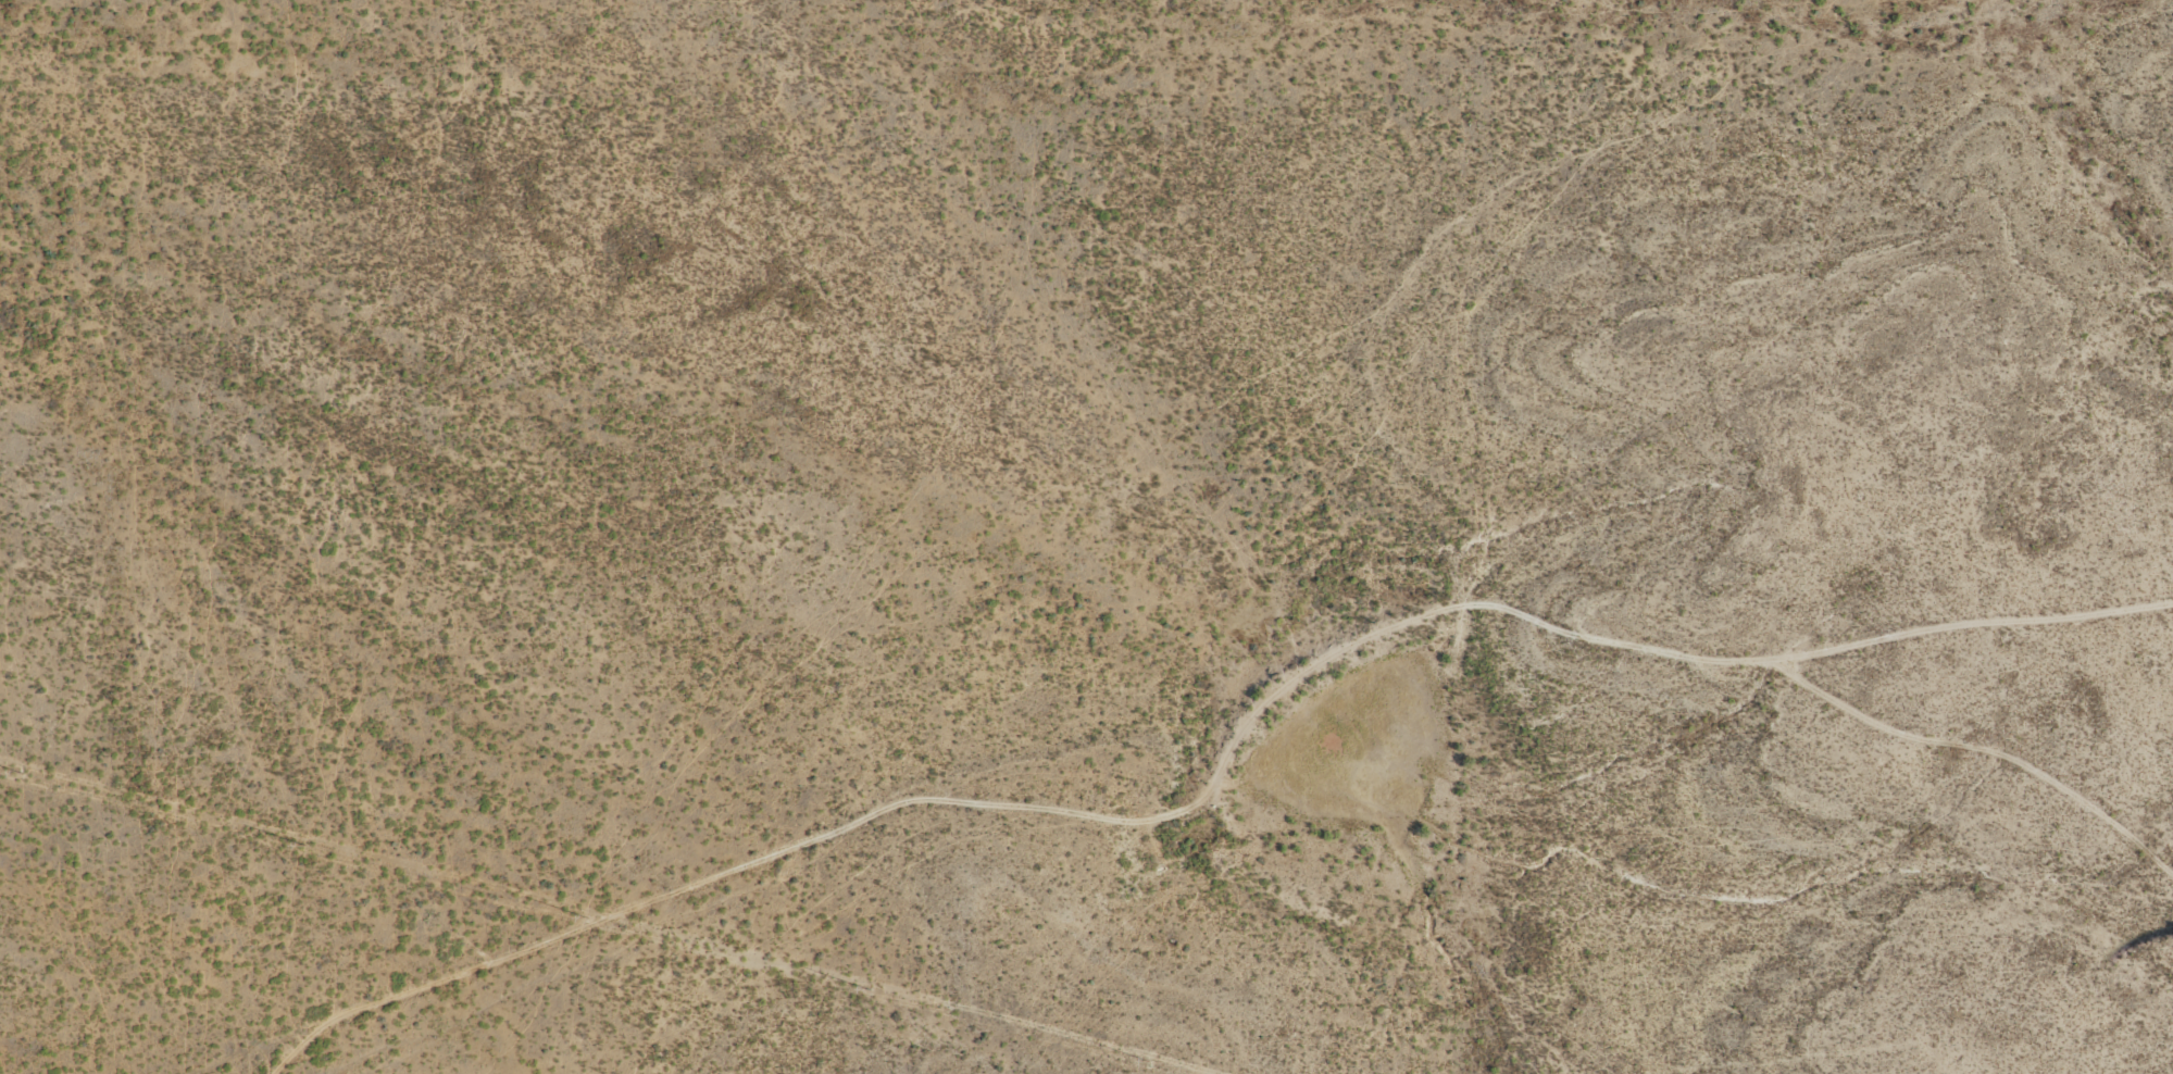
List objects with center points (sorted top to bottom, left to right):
road: (1975, 599)
road: (1235, 711)
power tower: (20, 776)
power tower: (301, 847)
power tower: (588, 921)
power tower: (865, 992)
road: (193, 1053)
power tower: (1144, 1063)

